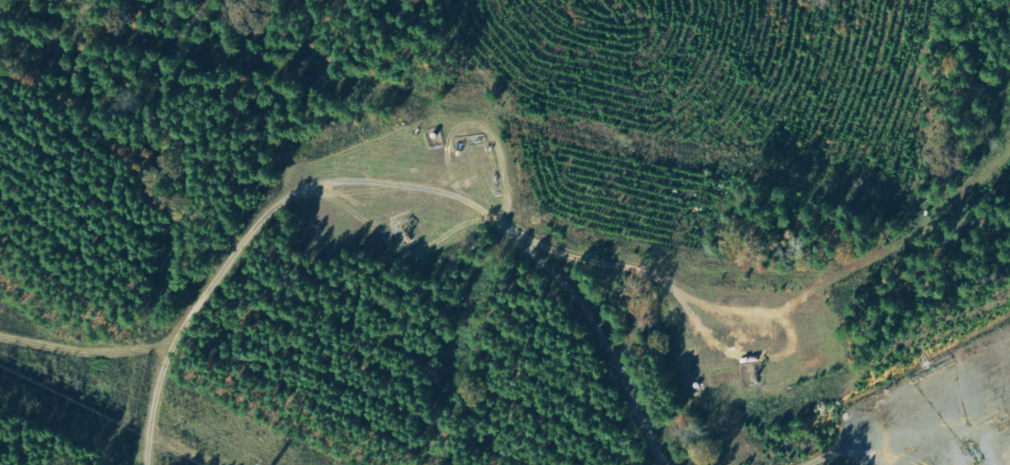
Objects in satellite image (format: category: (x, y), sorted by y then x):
road: (757, 268)

